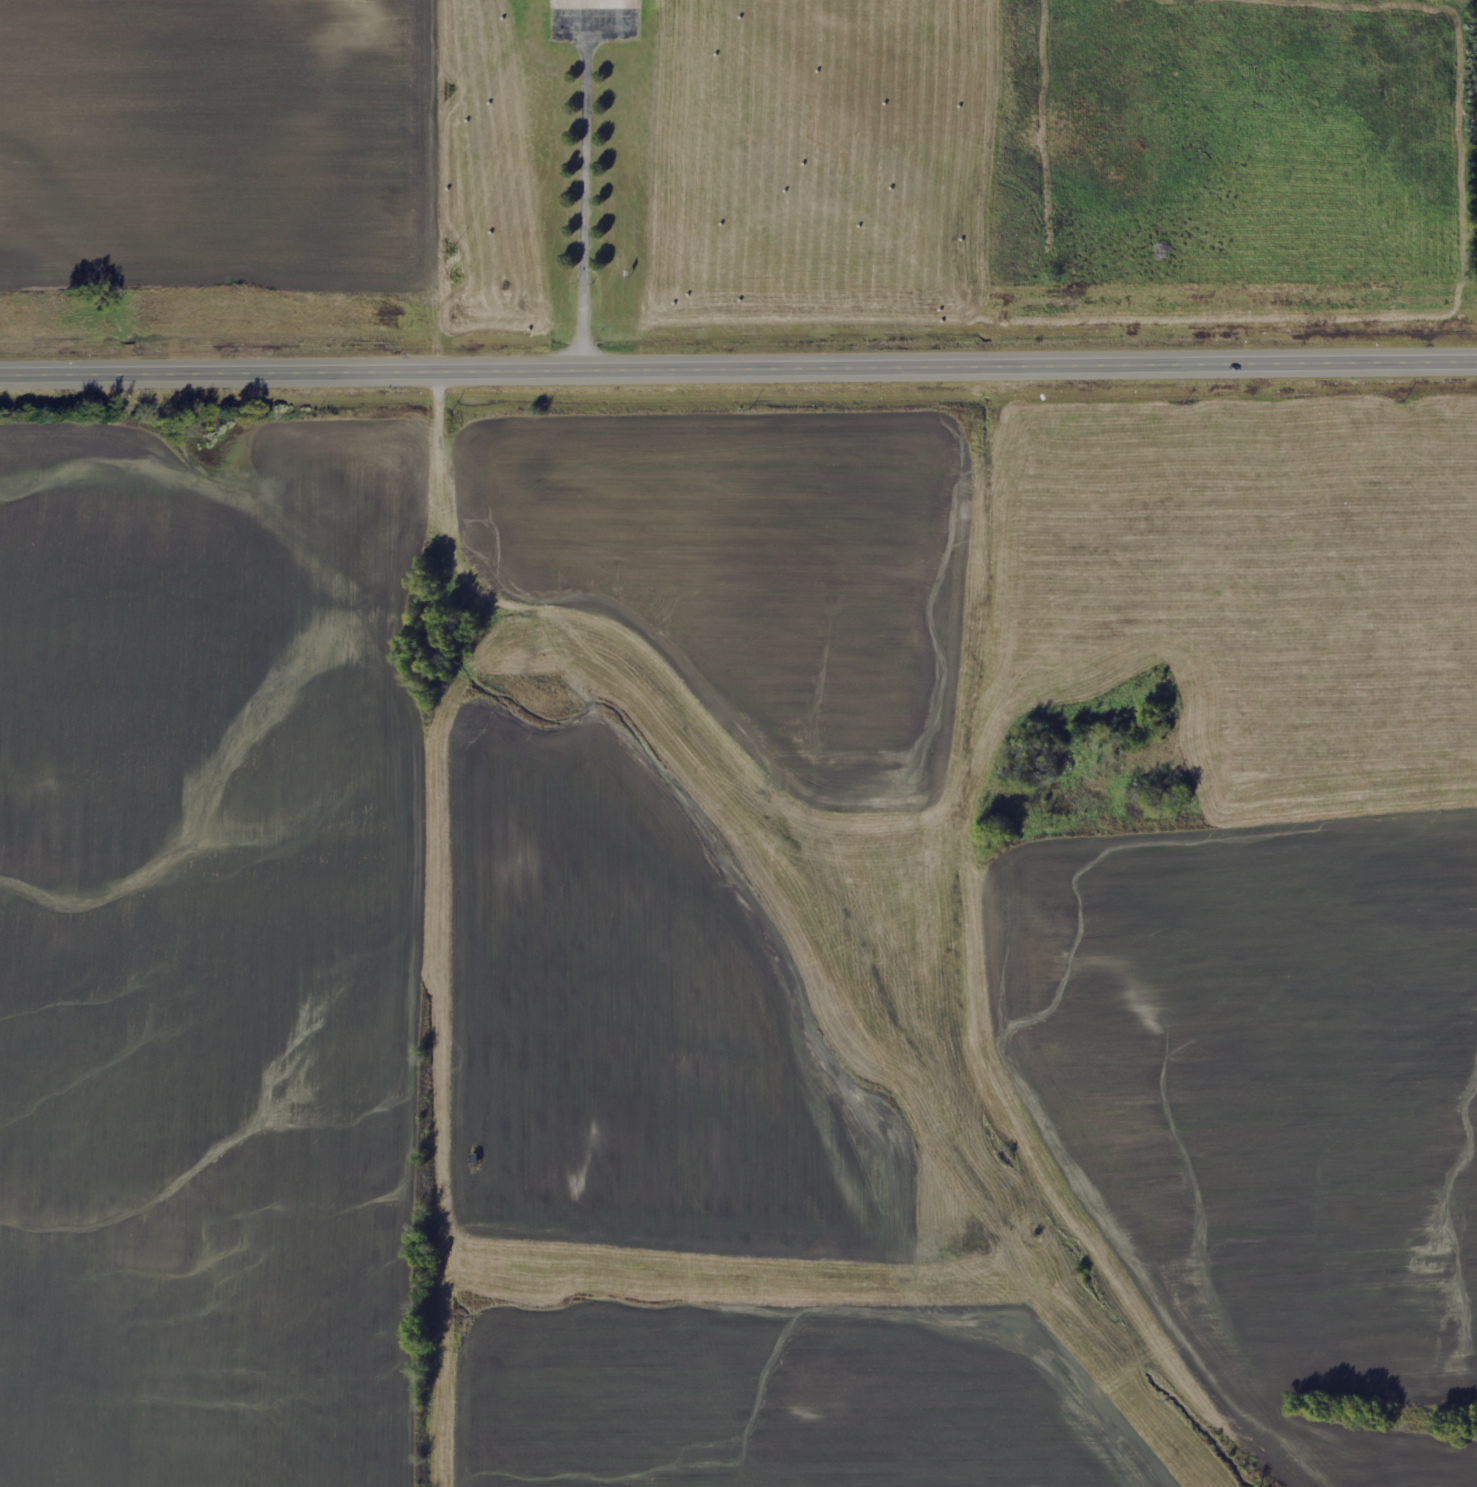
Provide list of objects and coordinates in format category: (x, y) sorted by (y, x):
road: (738, 364)

